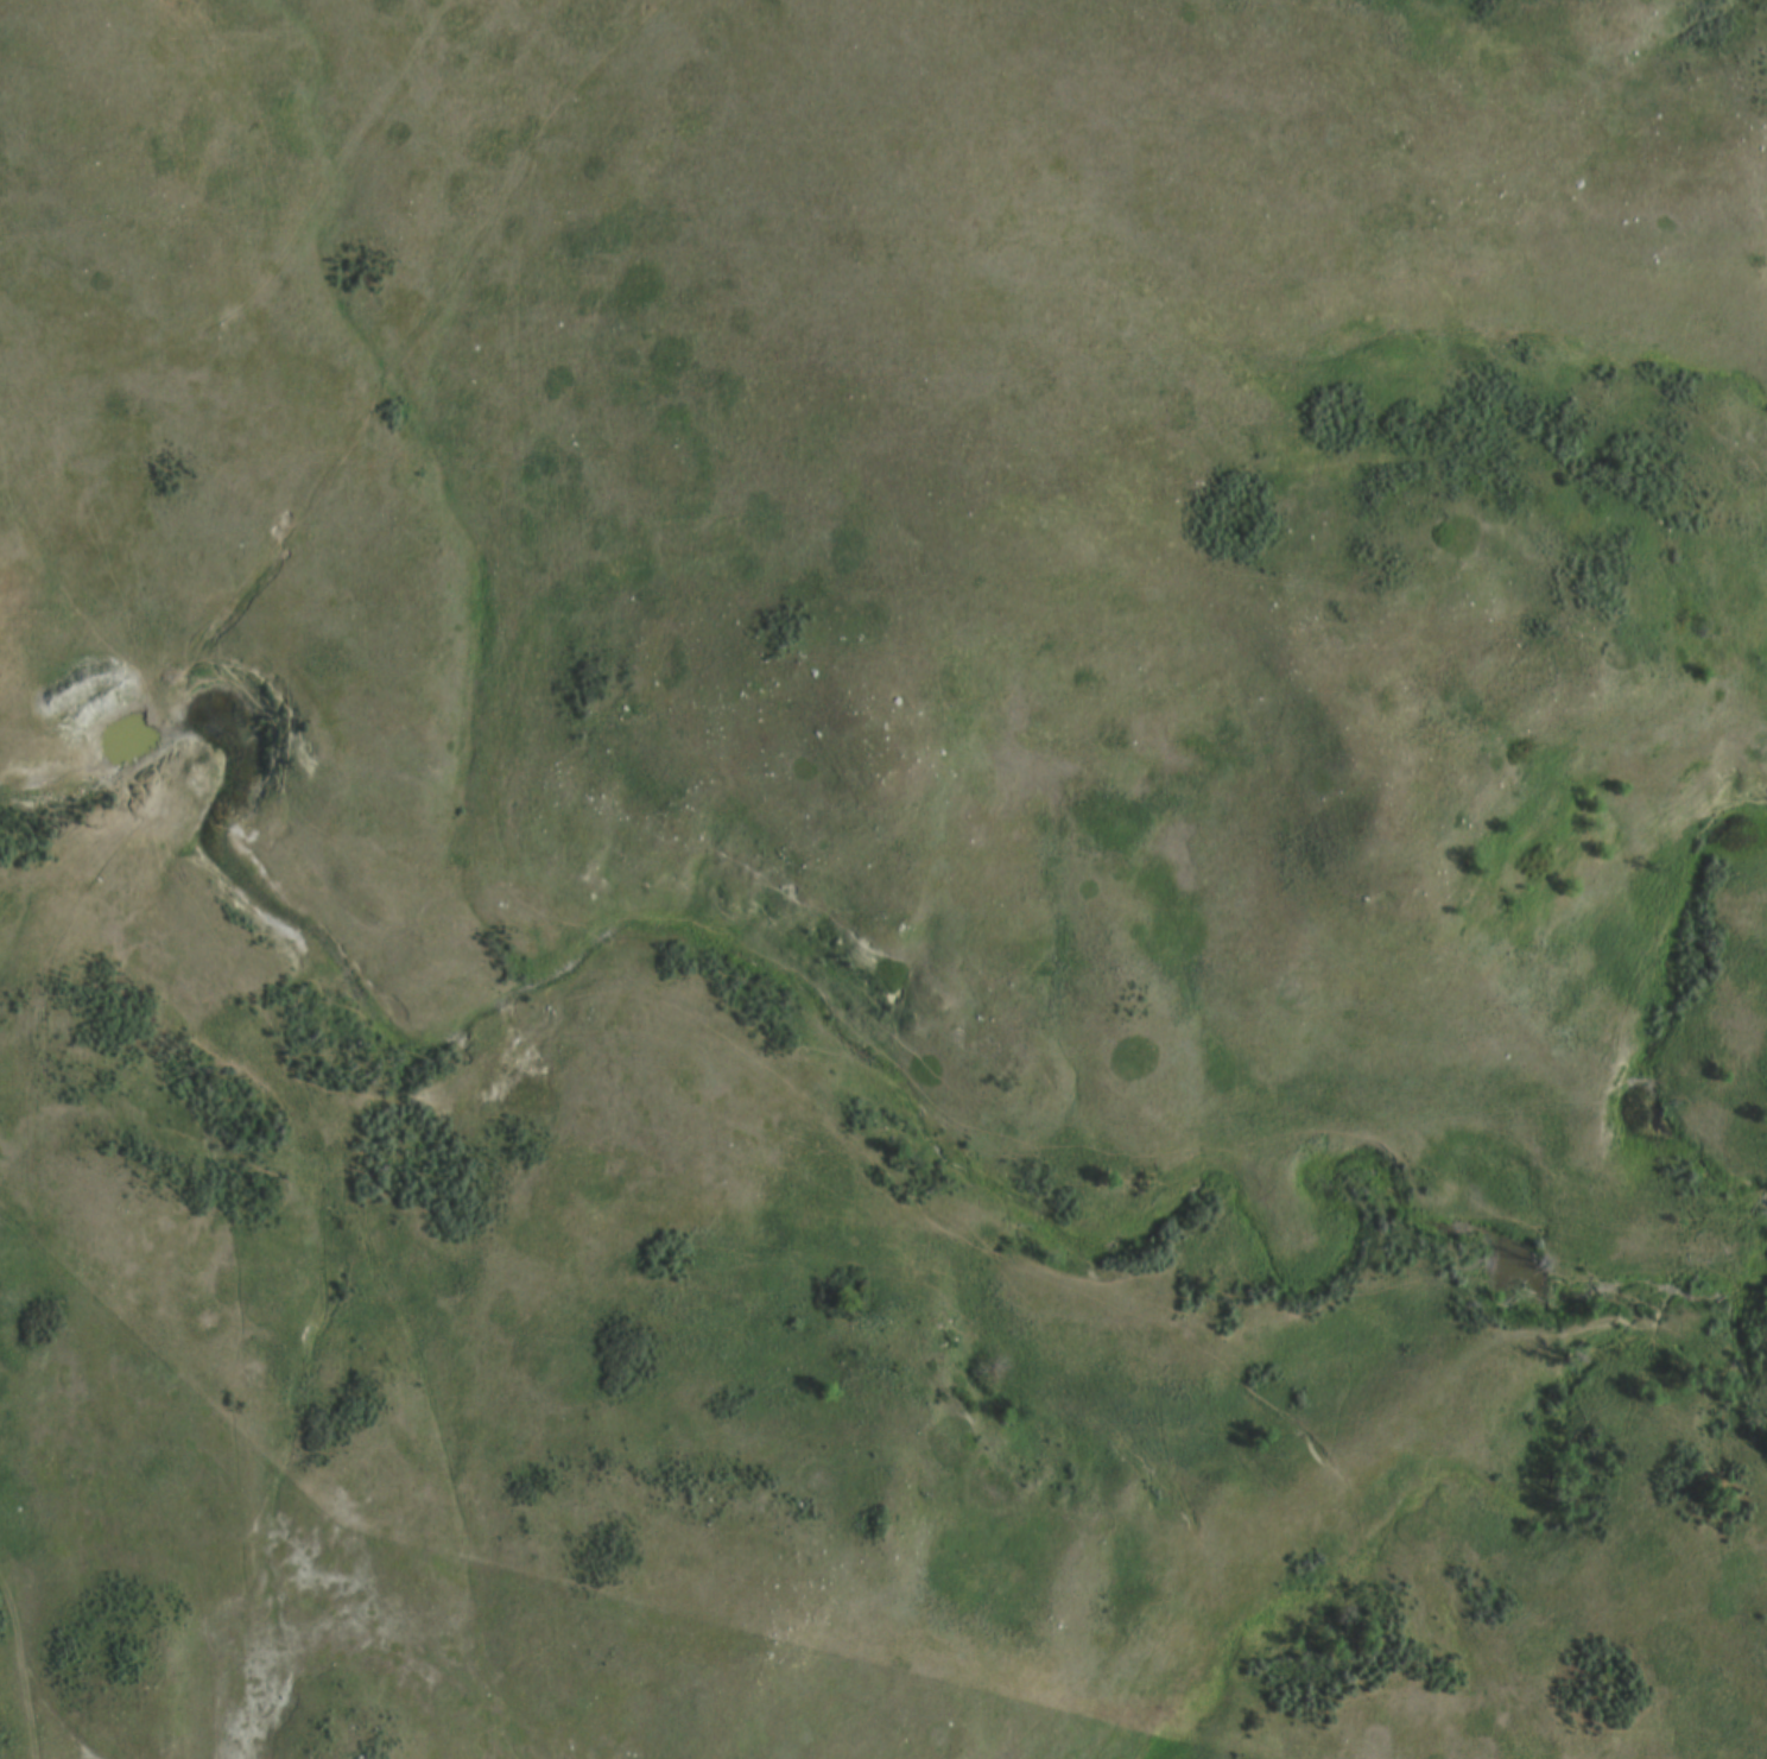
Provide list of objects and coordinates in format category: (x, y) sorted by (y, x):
road: (27, 1668)

